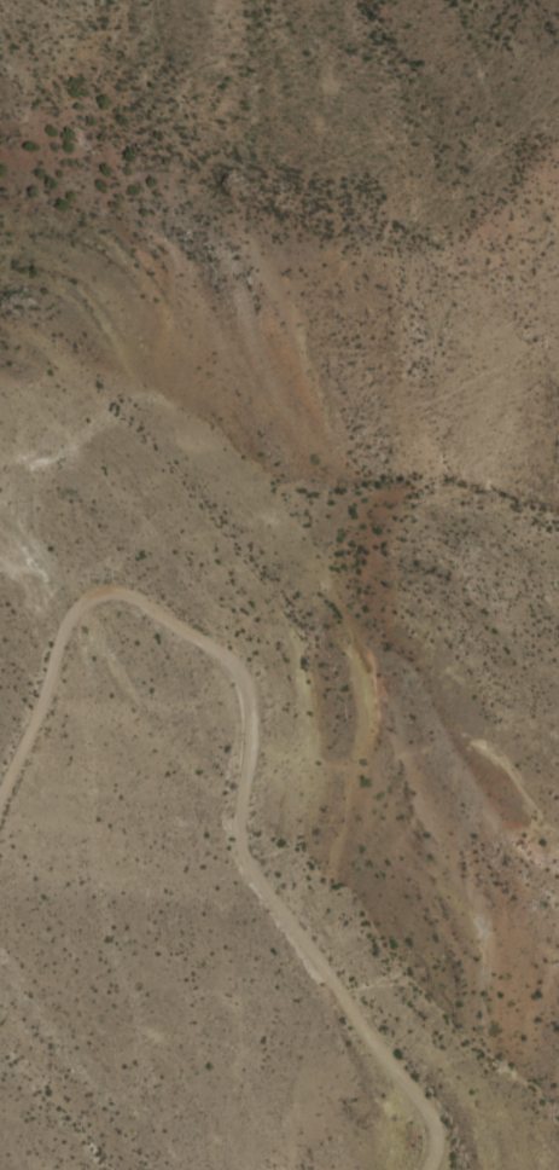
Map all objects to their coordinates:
road: (233, 863)

